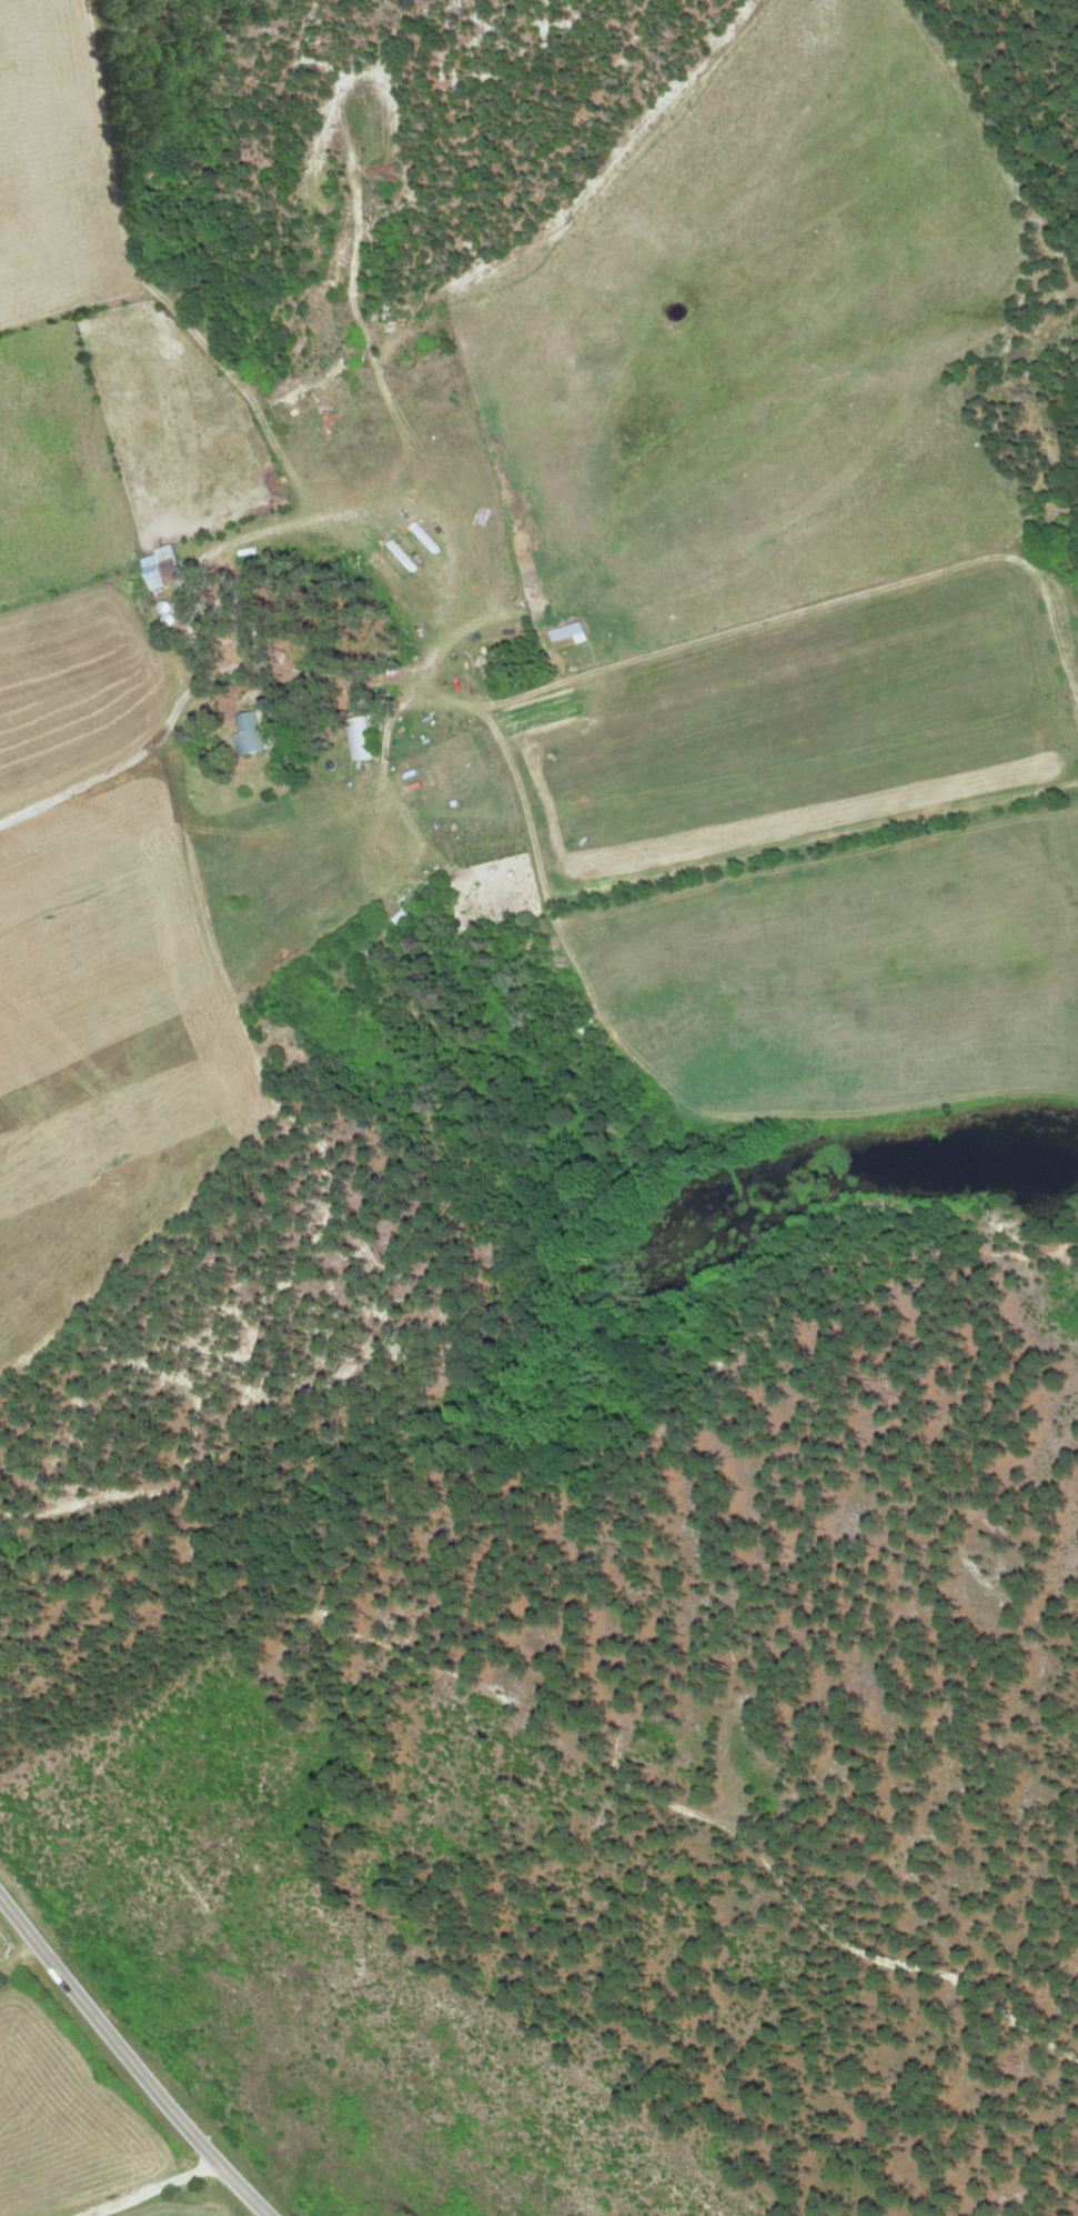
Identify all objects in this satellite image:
building: (162, 564)
building: (251, 731)
building: (361, 736)
road: (130, 2059)

